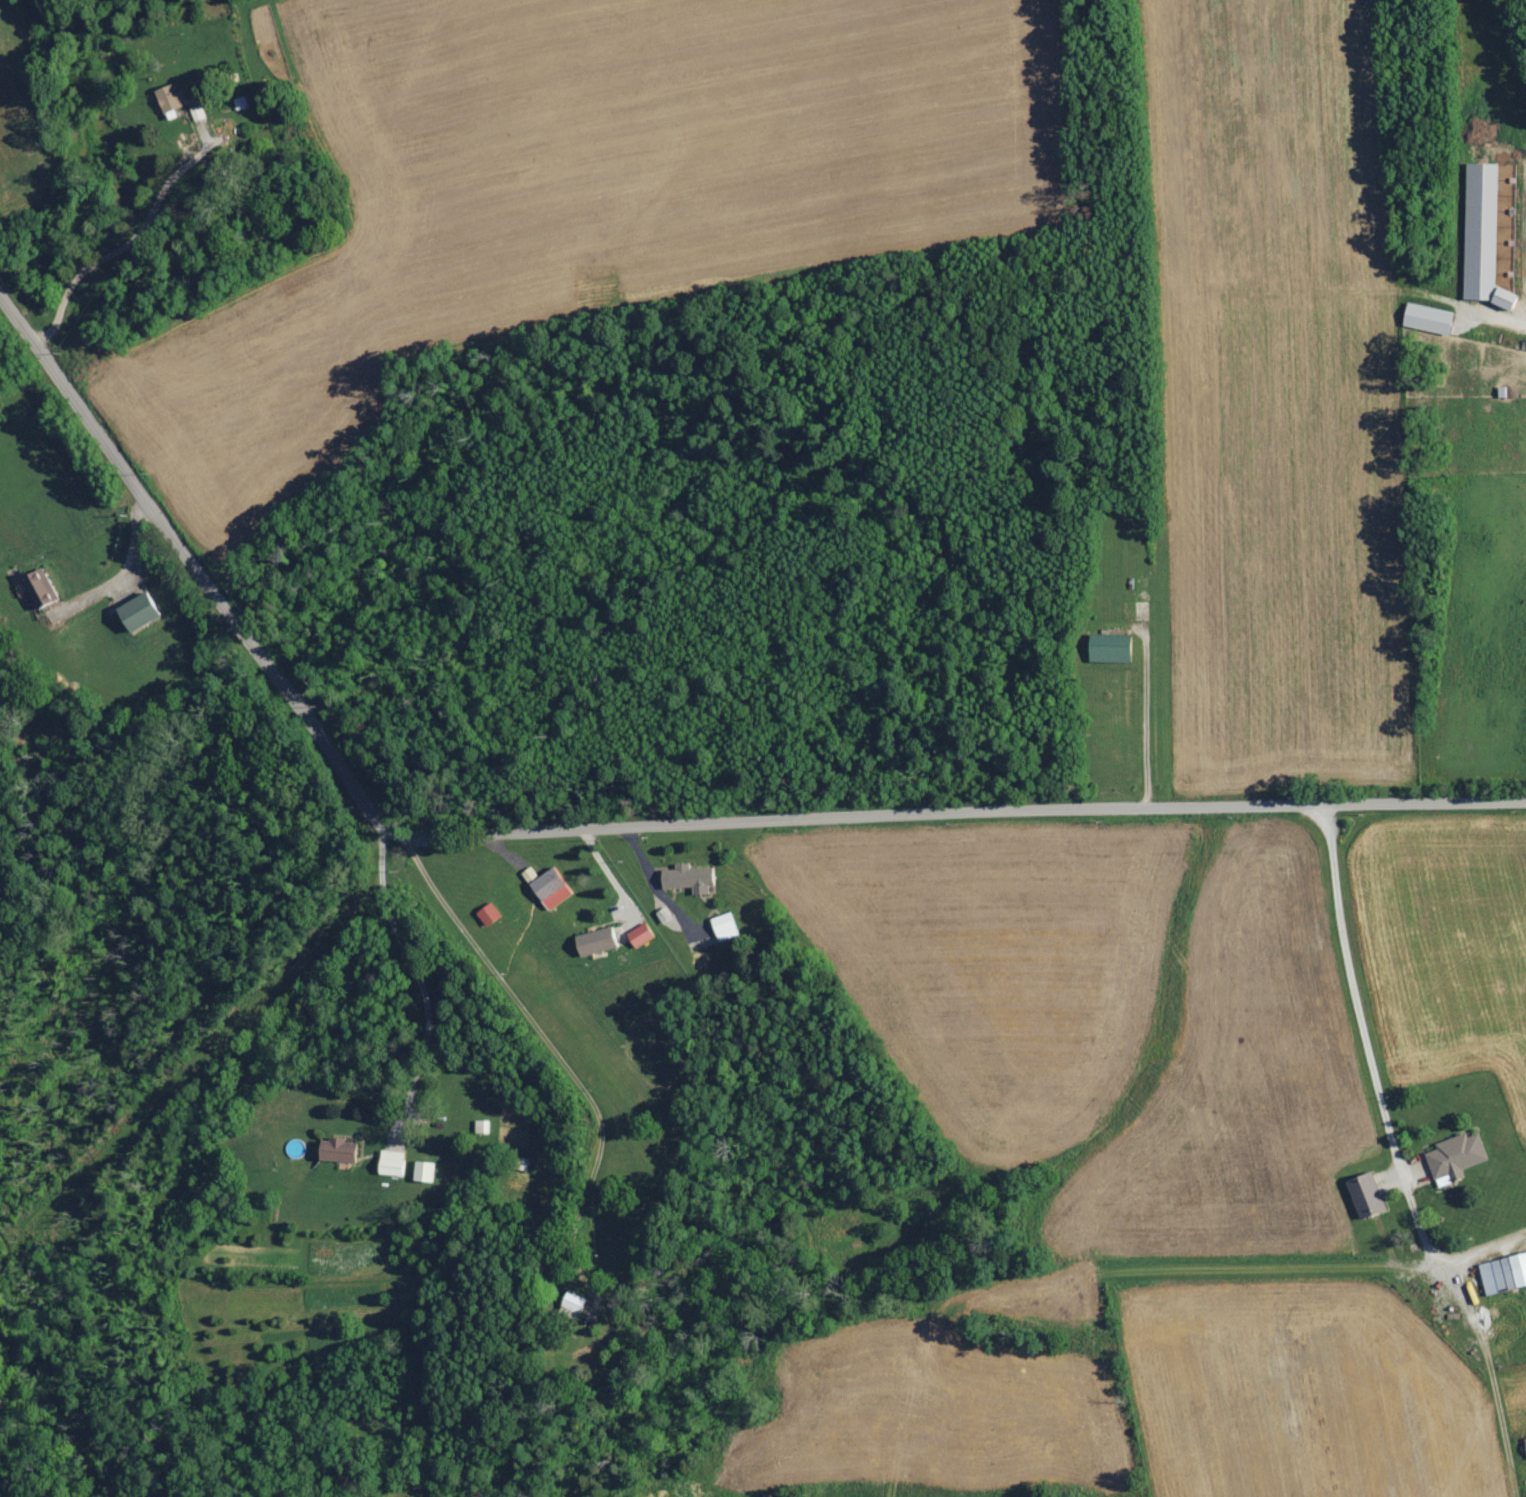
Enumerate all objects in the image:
building: (167, 100)
building: (196, 112)
building: (1480, 236)
road: (127, 243)
road: (137, 548)
building: (37, 586)
building: (135, 610)
building: (1108, 646)
road: (1147, 720)
road: (626, 827)
building: (687, 877)
road: (612, 879)
building: (545, 885)
road: (657, 885)
building: (487, 913)
building: (722, 925)
building: (638, 934)
building: (594, 940)
road: (418, 981)
road: (561, 1057)
road: (1379, 1085)
building: (480, 1125)
building: (335, 1149)
building: (1453, 1156)
building: (389, 1162)
building: (421, 1170)
building: (1363, 1194)
building: (1503, 1272)
building: (569, 1304)
building: (1524, 1442)

